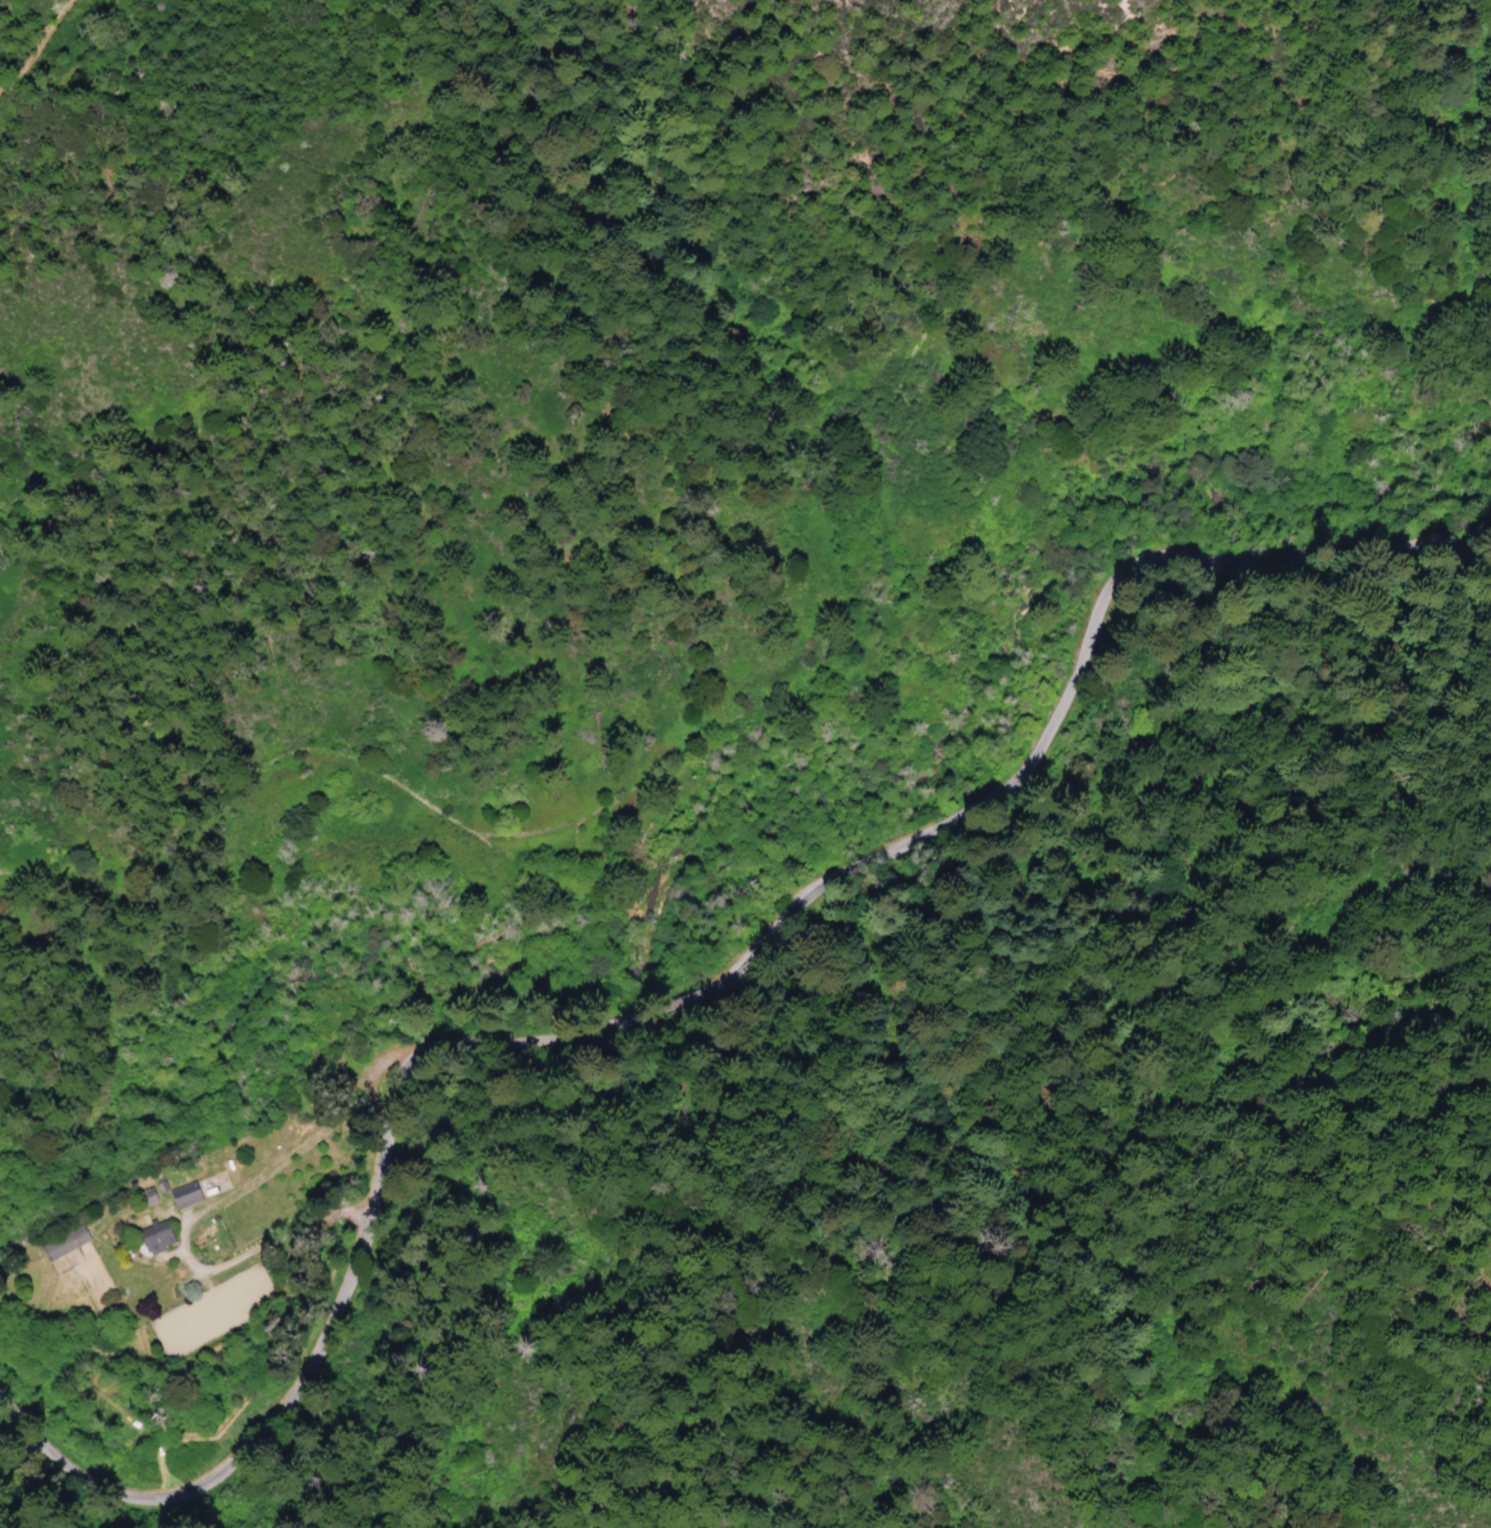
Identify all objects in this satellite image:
road: (36, 43)
road: (1198, 389)
road: (724, 722)
road: (682, 996)
road: (256, 1179)
building: (193, 1200)
building: (156, 1201)
building: (165, 1244)
building: (70, 1247)

